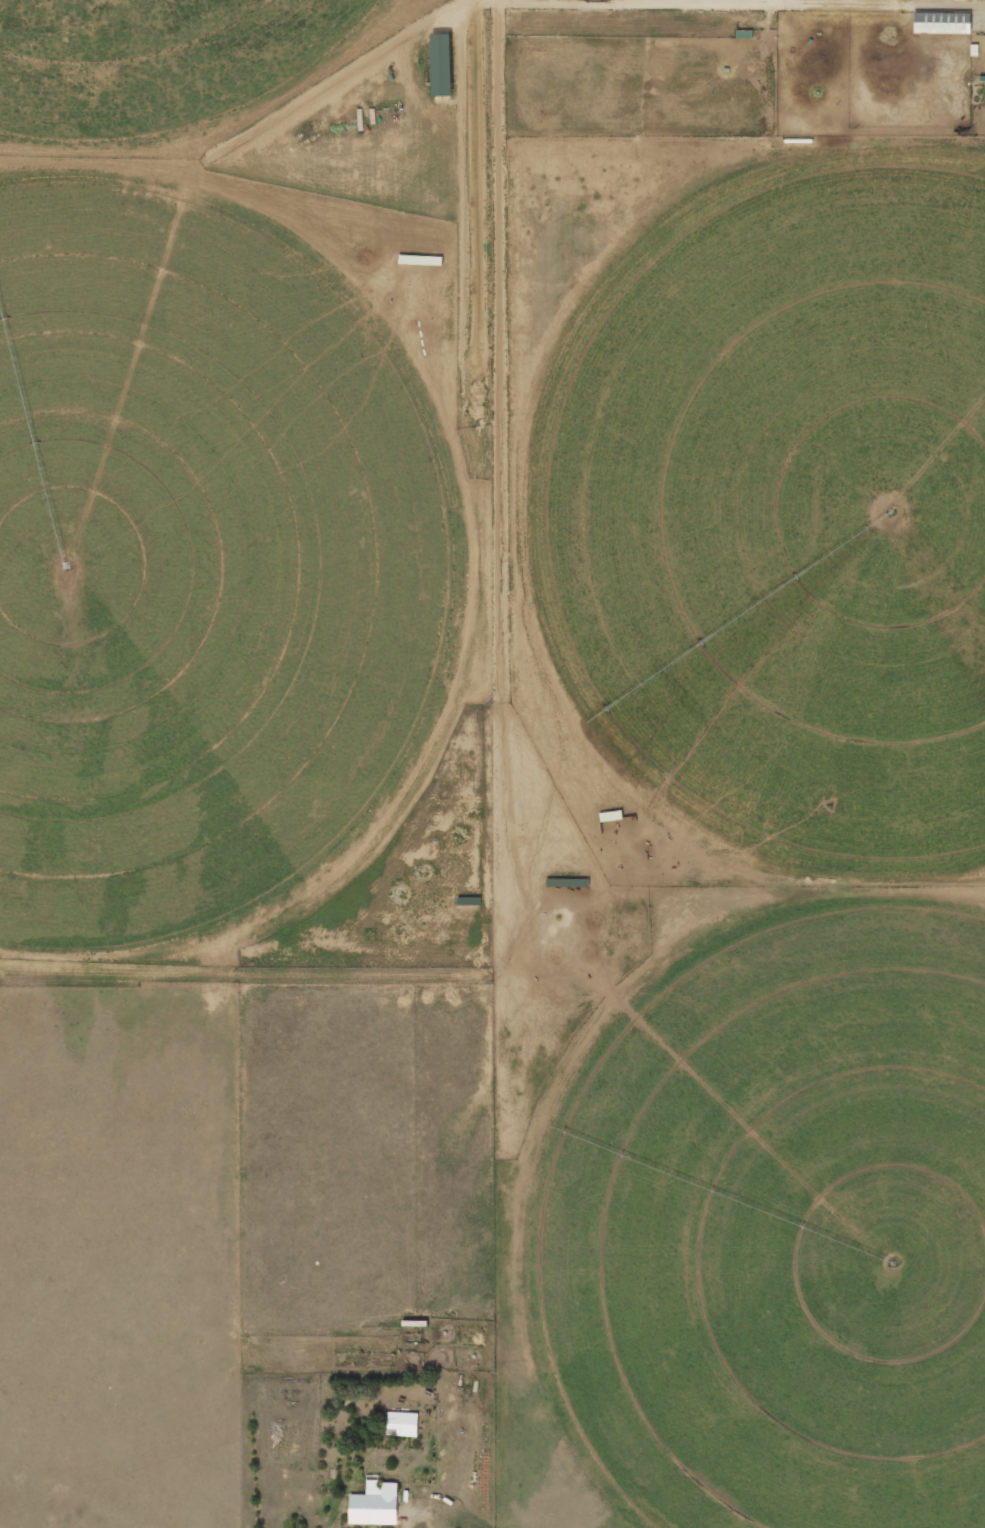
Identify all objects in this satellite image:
building: (942, 23)
crop: (156, 61)
building: (441, 65)
crop: (781, 512)
crop: (199, 563)
crop: (779, 1232)
building: (402, 1424)
building: (375, 1505)

